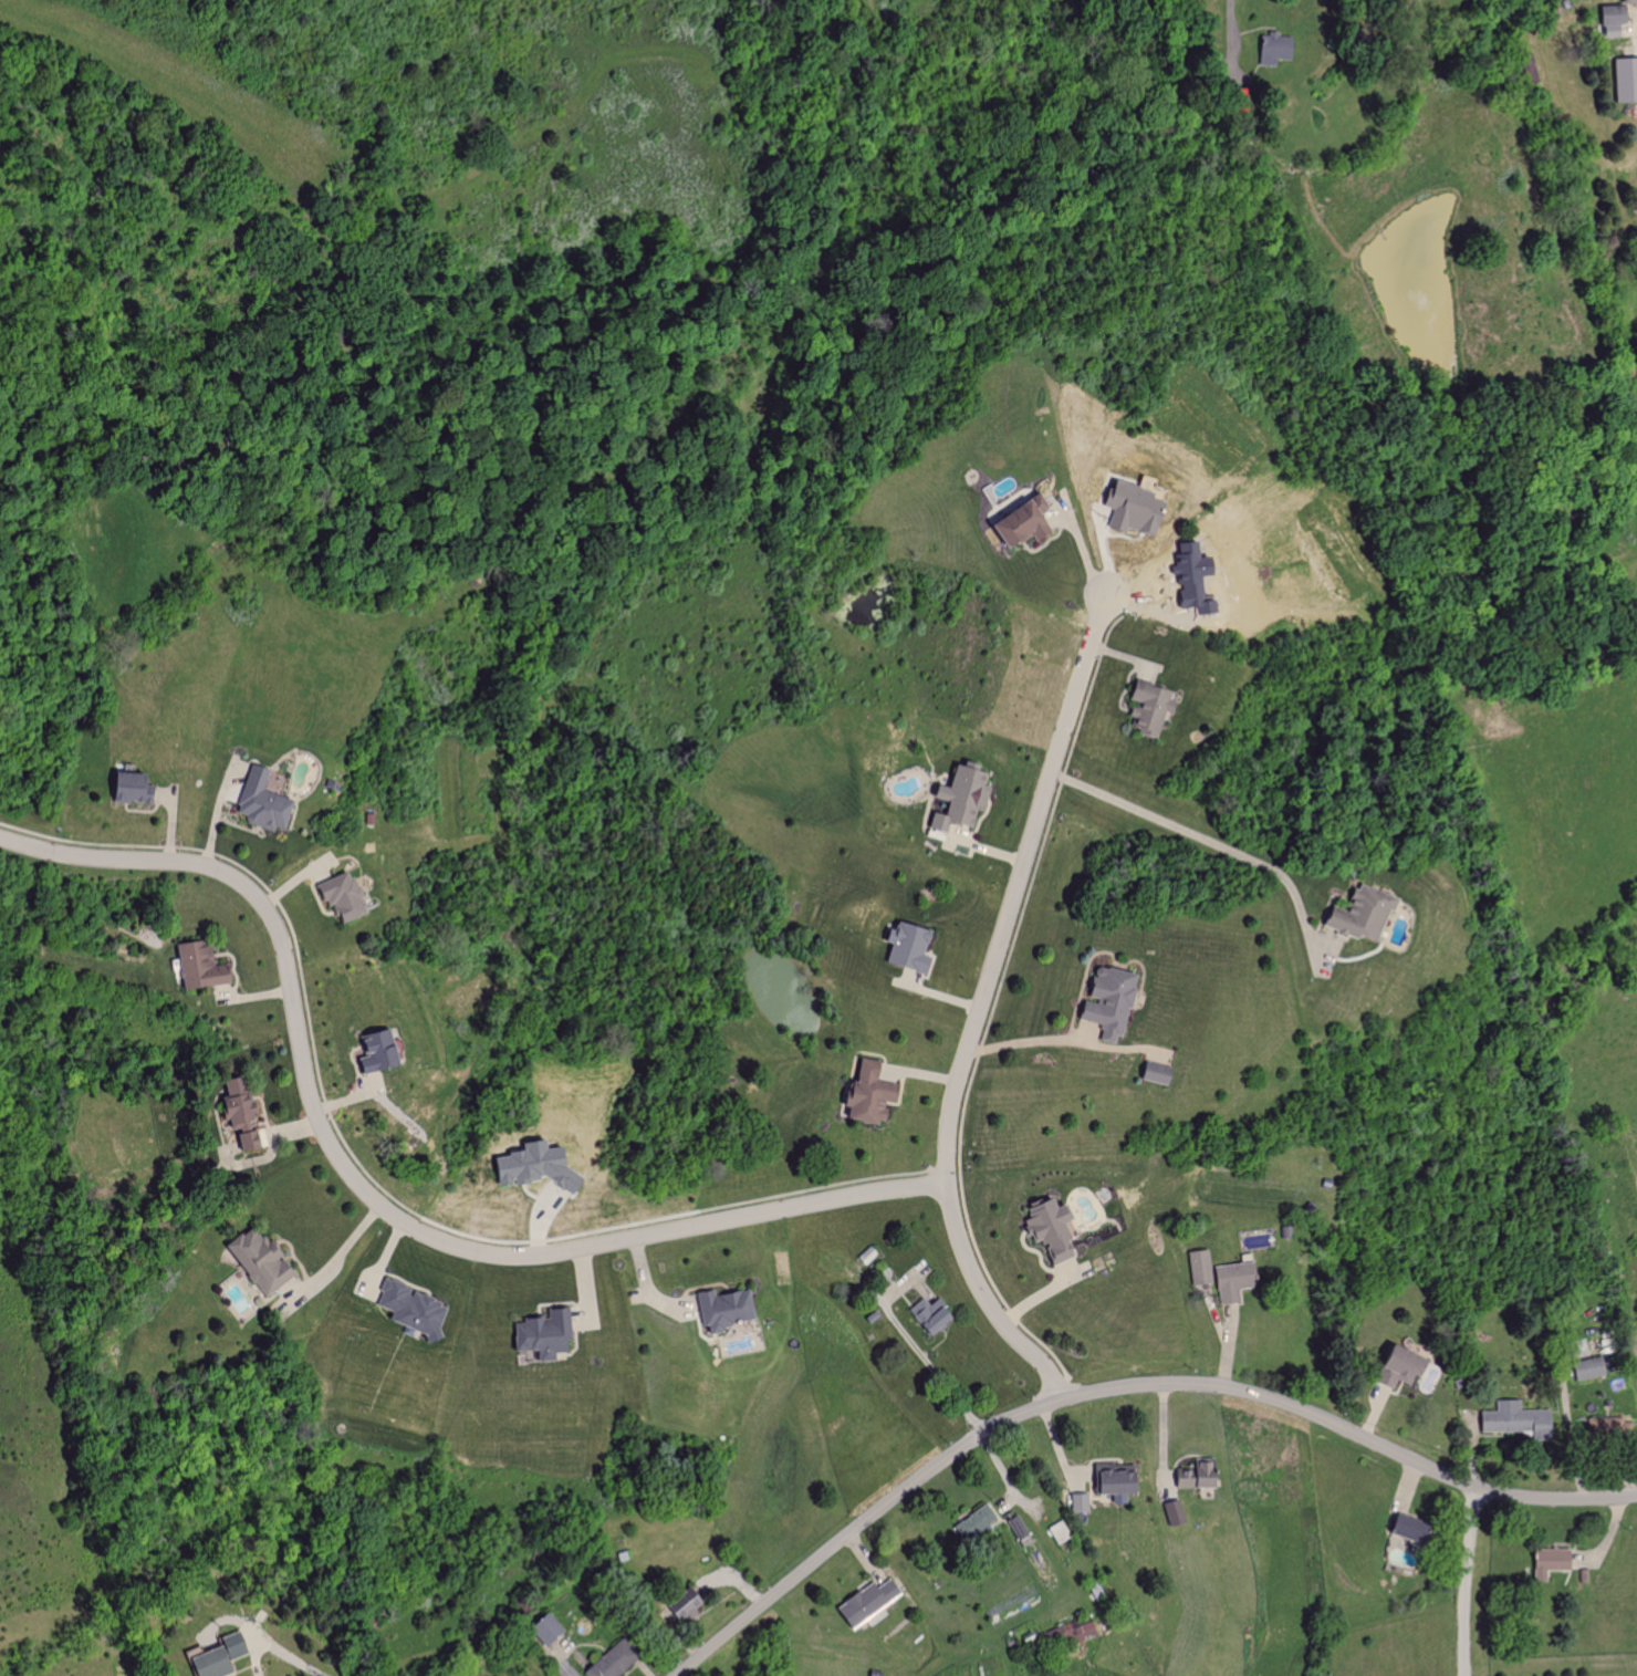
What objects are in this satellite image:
building: (1627, 1)
building: (1608, 19)
road: (1234, 27)
building: (1271, 48)
building: (1623, 79)
building: (1030, 522)
road: (1082, 545)
building: (1156, 707)
building: (137, 787)
building: (967, 798)
building: (268, 802)
road: (1212, 842)
building: (350, 897)
building: (1354, 914)
building: (914, 947)
building: (206, 966)
building: (1113, 1002)
road: (976, 1009)
road: (1023, 1040)
building: (386, 1052)
building: (1162, 1073)
building: (874, 1094)
building: (539, 1166)
road: (366, 1193)
building: (1056, 1229)
road: (333, 1249)
building: (267, 1261)
building: (1196, 1267)
building: (1229, 1281)
road: (645, 1287)
building: (418, 1308)
building: (729, 1309)
building: (935, 1315)
building: (551, 1334)
road: (937, 1364)
building: (1394, 1366)
road: (1122, 1387)
building: (1510, 1420)
road: (1566, 1422)
building: (1605, 1429)
building: (1124, 1479)
building: (1084, 1505)
building: (1171, 1512)
building: (979, 1526)
building: (1020, 1528)
building: (1398, 1528)
building: (1062, 1532)
building: (1544, 1562)
road: (1463, 1583)
building: (872, 1602)
building: (555, 1631)
building: (1071, 1633)
road: (275, 1651)
building: (226, 1656)
building: (623, 1661)

